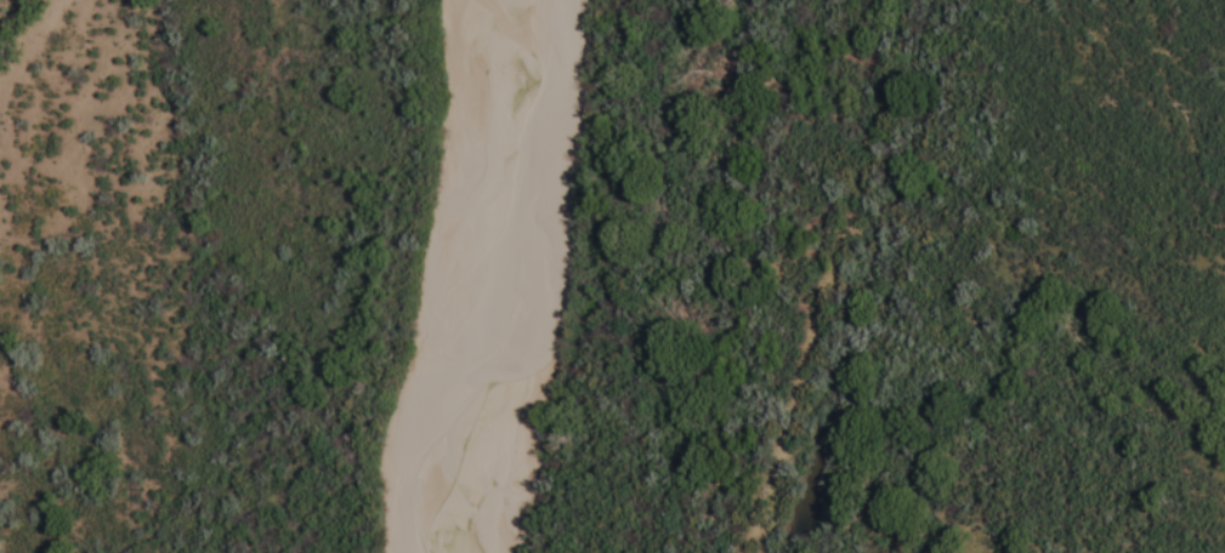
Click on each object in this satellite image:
river: (488, 276)

